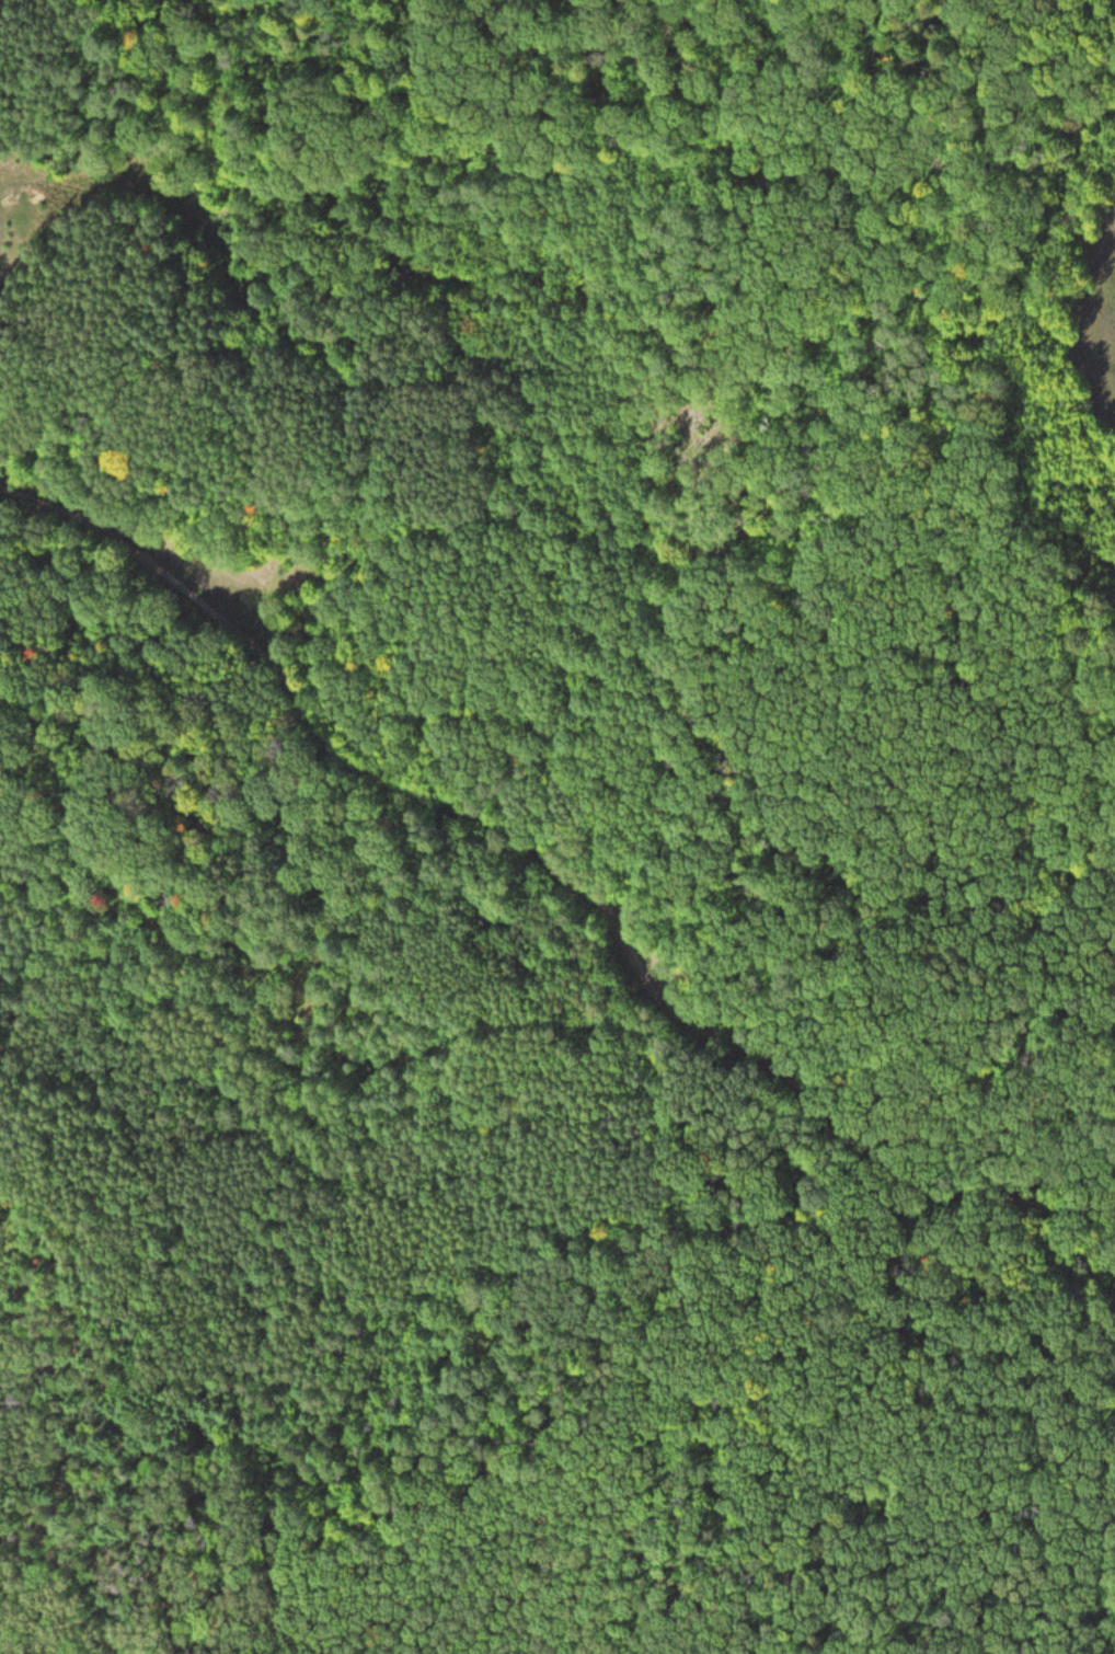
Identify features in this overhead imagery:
road: (548, 873)

